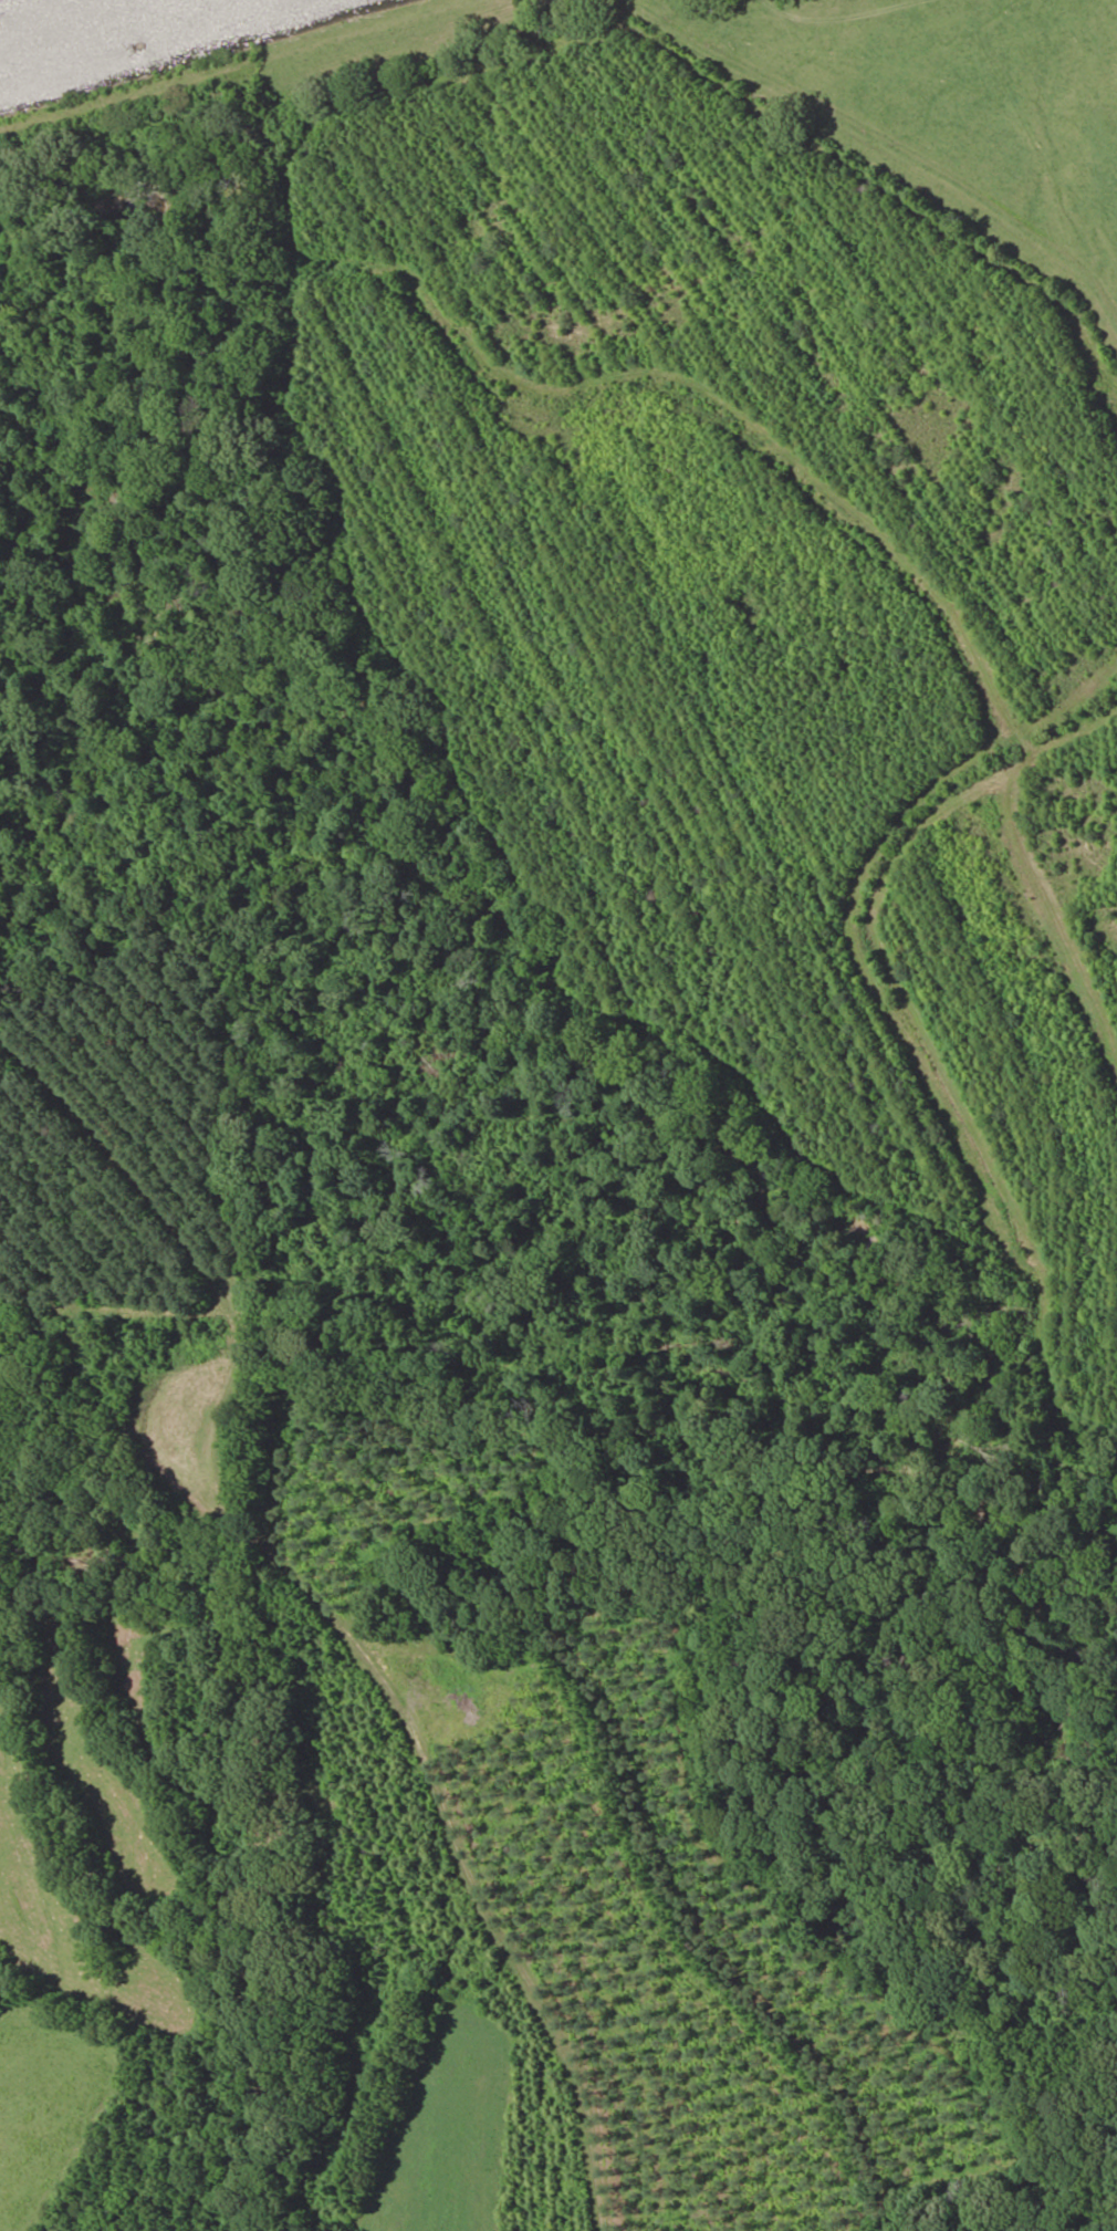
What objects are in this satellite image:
road: (20, 1345)
road: (409, 1686)

